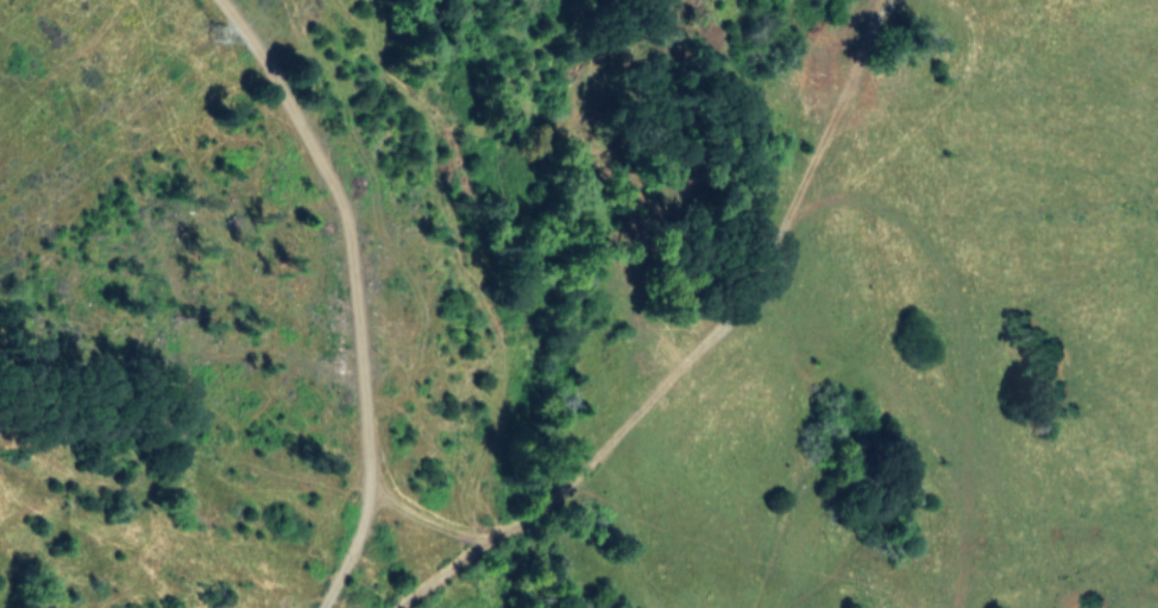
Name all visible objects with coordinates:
power tower: (224, 57)
road: (358, 290)
road: (709, 350)

